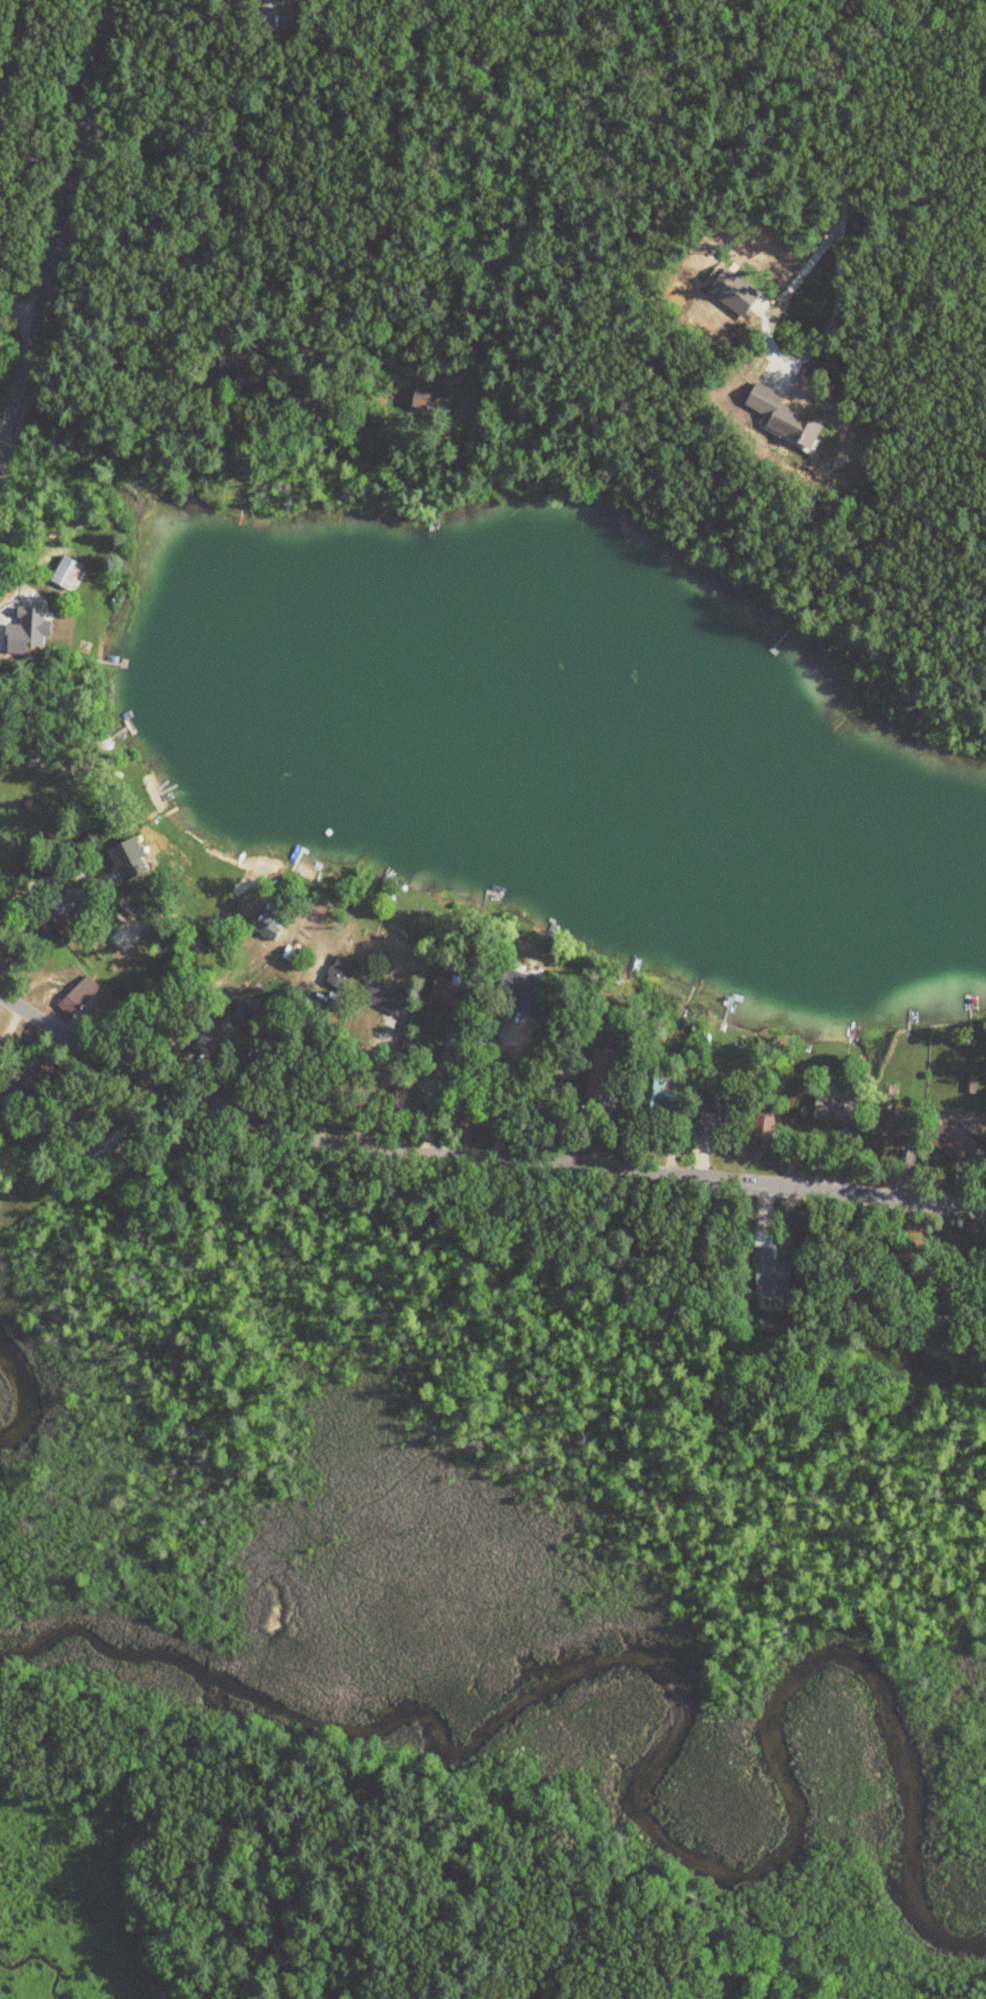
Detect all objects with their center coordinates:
road: (845, 107)
road: (39, 150)
road: (65, 221)
road: (272, 281)
road: (20, 318)
road: (789, 349)
building: (222, 365)
building: (423, 397)
building: (779, 418)
building: (64, 572)
building: (126, 858)
road: (44, 876)
building: (60, 903)
building: (268, 923)
building: (112, 931)
building: (290, 954)
building: (340, 971)
building: (517, 988)
building: (442, 990)
building: (77, 995)
building: (380, 996)
building: (306, 1010)
road: (504, 1040)
building: (202, 1044)
road: (264, 1051)
building: (597, 1077)
building: (660, 1094)
building: (836, 1109)
building: (714, 1112)
building: (888, 1125)
building: (941, 1135)
building: (107, 1141)
road: (476, 1159)

